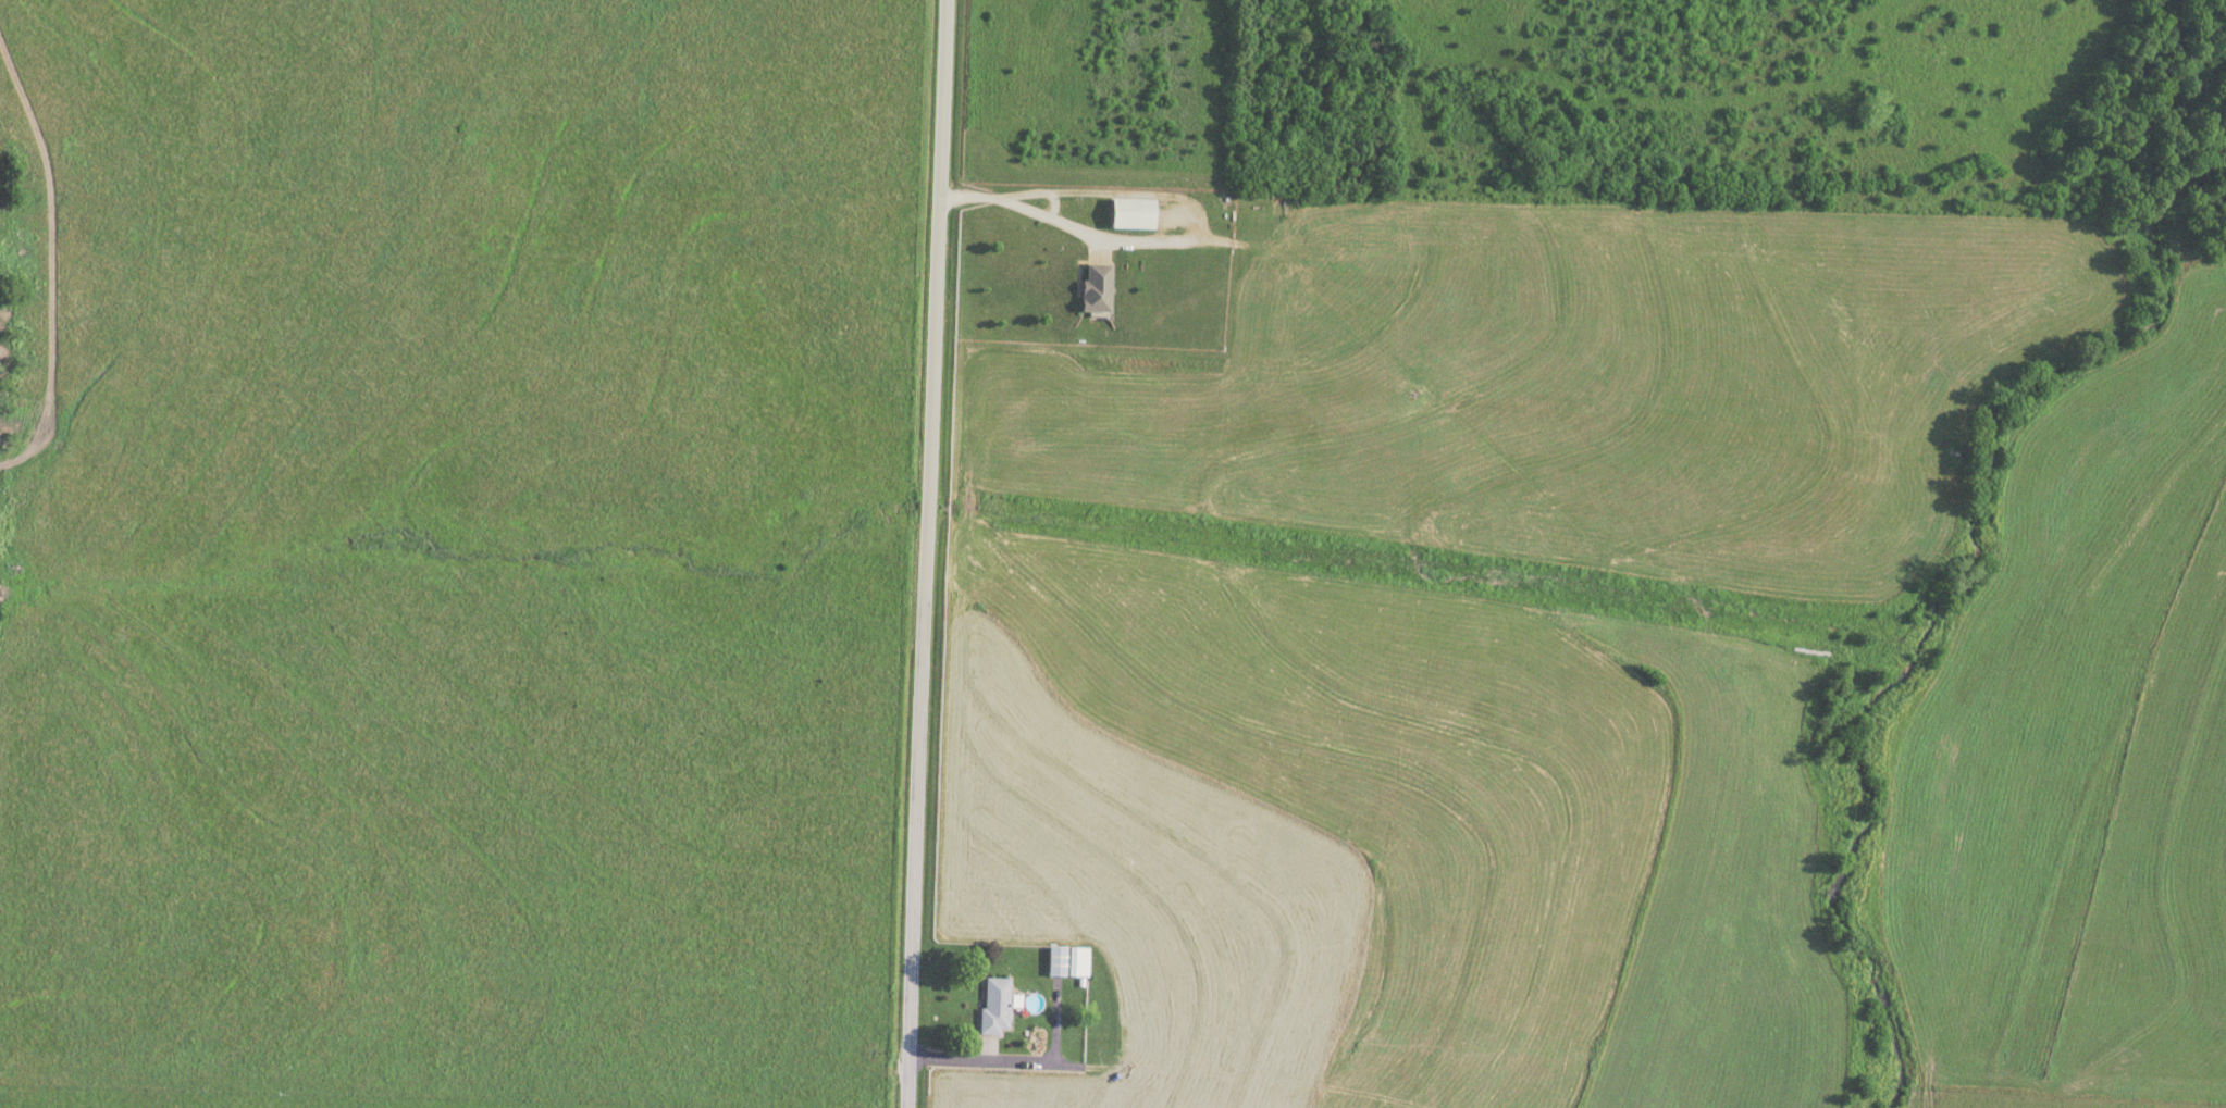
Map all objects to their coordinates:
building: (1135, 213)
road: (1024, 216)
building: (1098, 287)
road: (927, 553)
building: (1068, 961)
building: (995, 1005)
road: (1022, 1058)

